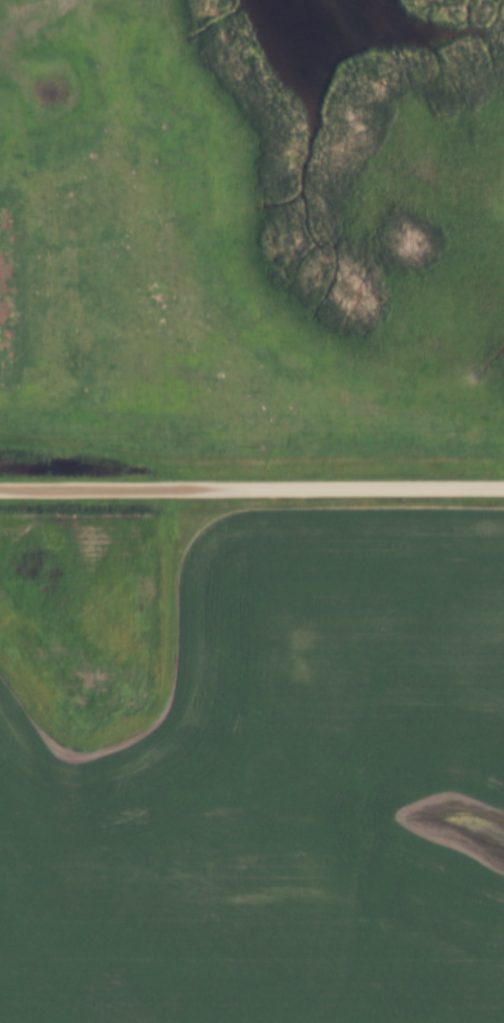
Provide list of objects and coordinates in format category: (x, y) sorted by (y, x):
road: (252, 488)

